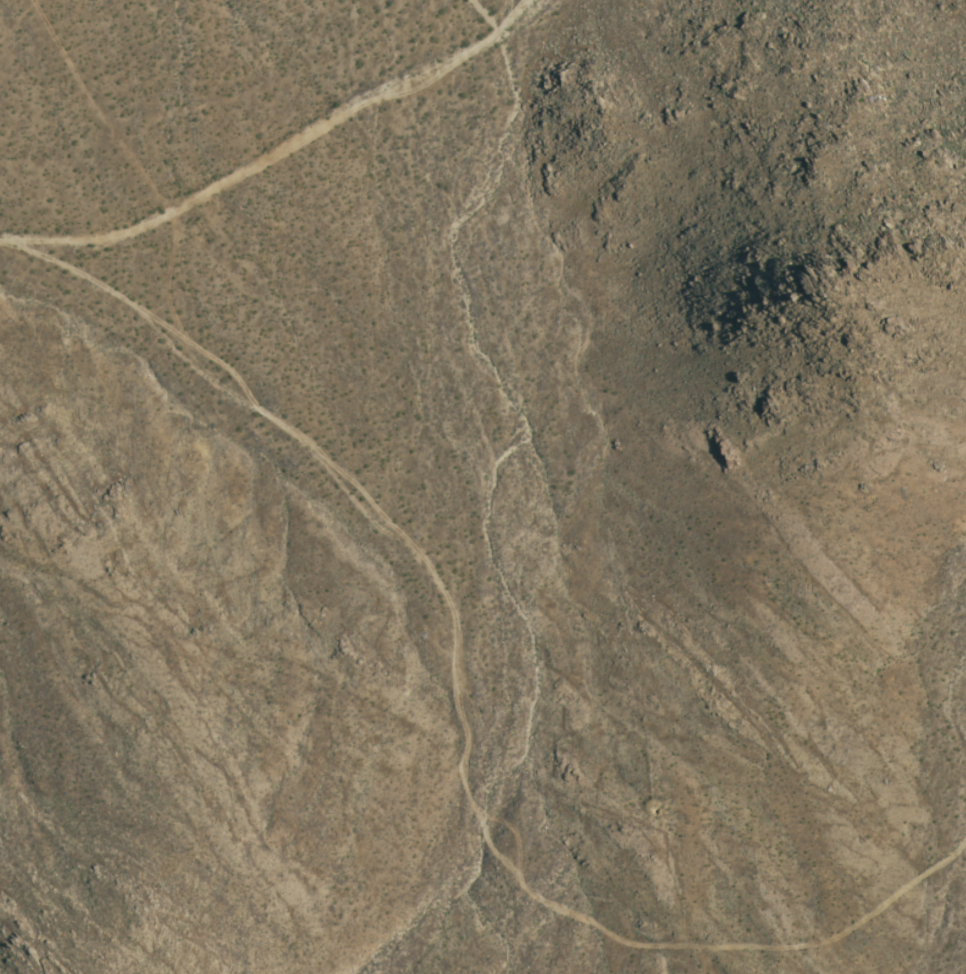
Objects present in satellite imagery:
road: (466, 698)
road: (951, 911)

